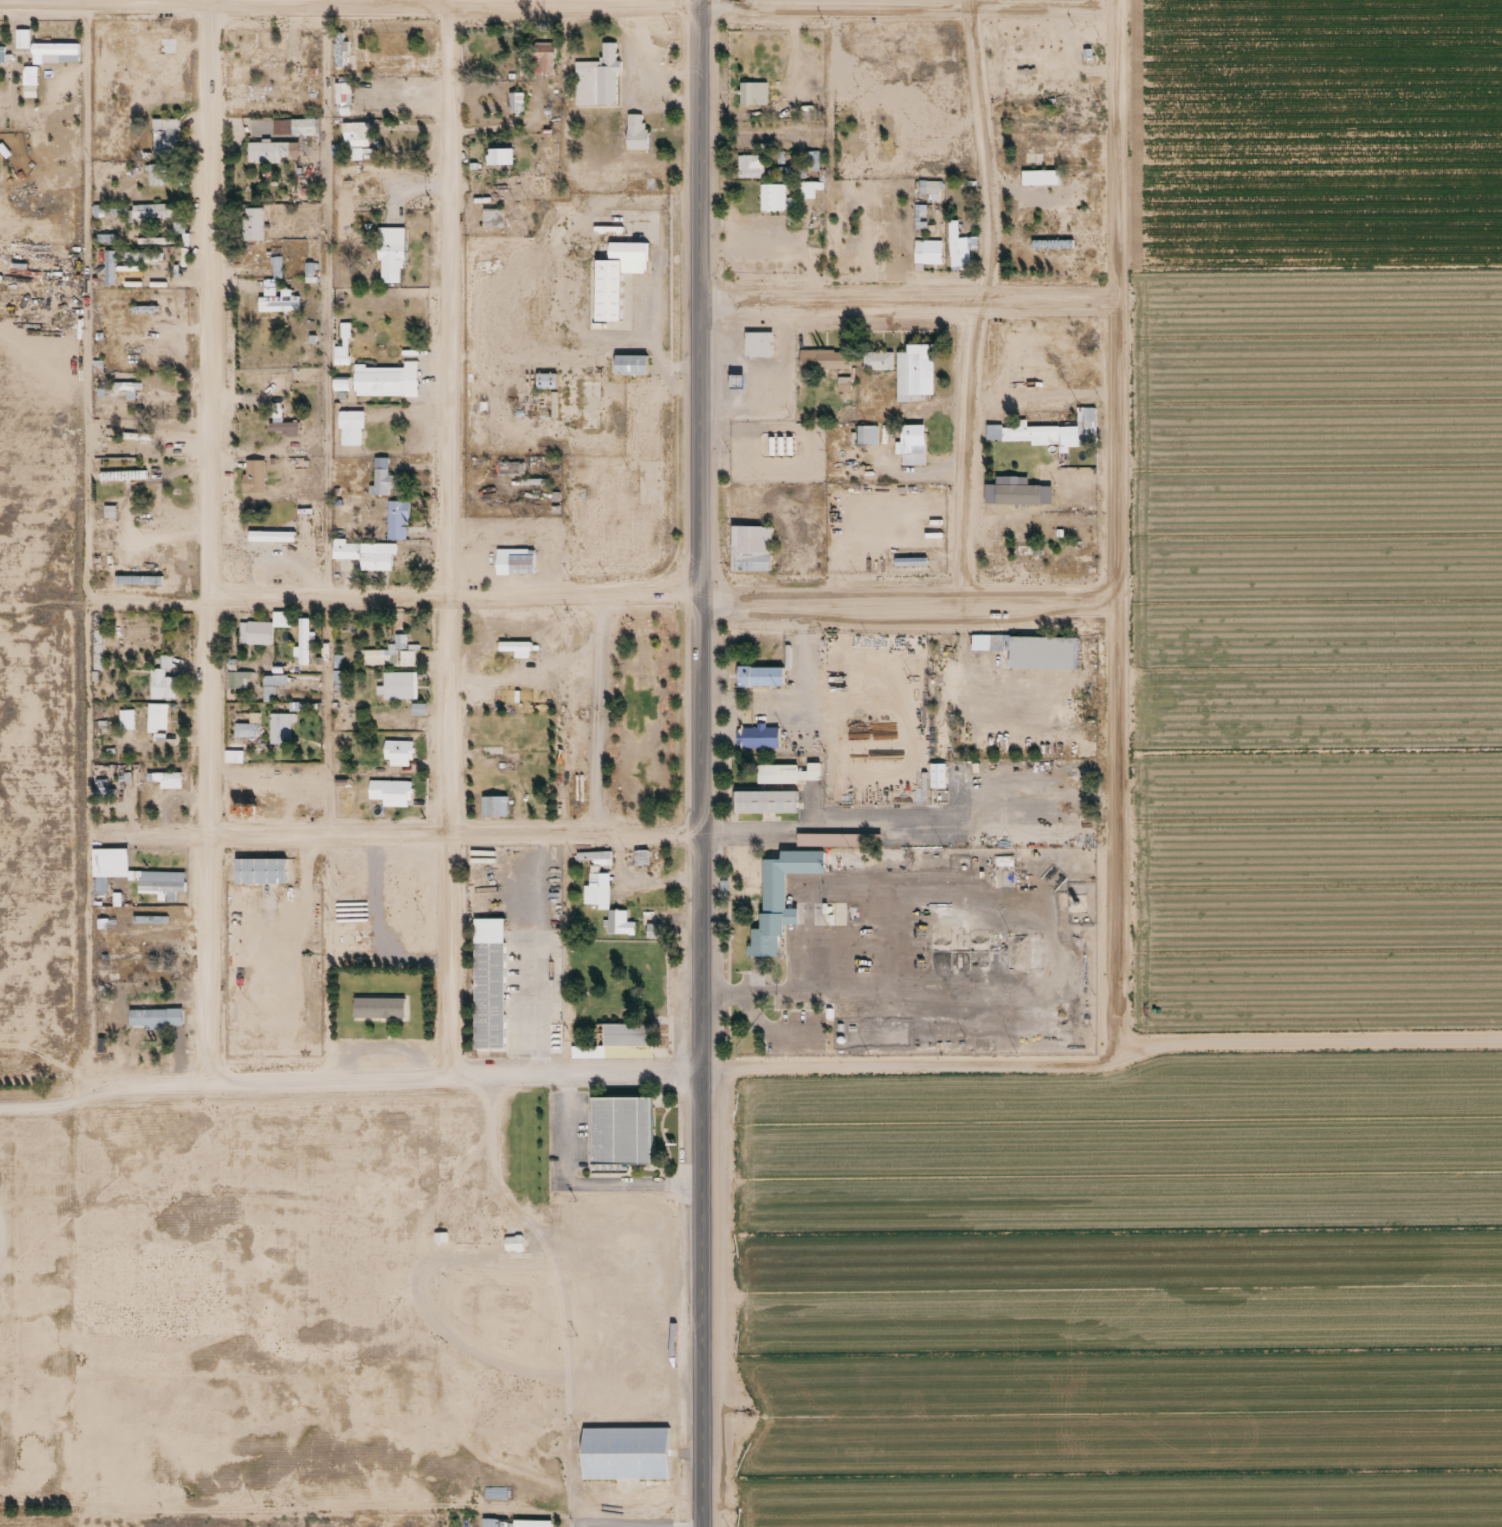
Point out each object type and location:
road: (512, 0)
road: (833, 1)
road: (1041, 1)
building: (1030, 45)
building: (54, 52)
building: (543, 53)
building: (1, 55)
building: (263, 56)
building: (384, 63)
building: (601, 86)
building: (752, 93)
building: (267, 97)
building: (515, 102)
building: (268, 106)
building: (806, 111)
building: (293, 127)
building: (865, 131)
building: (354, 134)
building: (164, 137)
building: (640, 137)
building: (268, 147)
building: (500, 149)
road: (834, 149)
road: (985, 151)
building: (811, 159)
building: (749, 166)
building: (156, 175)
building: (1039, 178)
building: (496, 187)
building: (927, 191)
building: (771, 197)
road: (1048, 198)
building: (149, 211)
building: (253, 217)
building: (919, 217)
building: (491, 219)
building: (836, 222)
building: (1051, 244)
building: (390, 245)
building: (926, 252)
building: (959, 253)
building: (618, 283)
building: (144, 301)
road: (905, 301)
building: (277, 302)
building: (758, 343)
building: (823, 359)
building: (876, 359)
building: (635, 370)
building: (914, 371)
building: (386, 374)
building: (125, 377)
building: (545, 380)
building: (339, 383)
building: (125, 388)
road: (331, 416)
building: (350, 420)
building: (284, 424)
building: (1046, 431)
building: (866, 434)
building: (911, 444)
road: (968, 445)
building: (508, 467)
building: (380, 472)
building: (253, 476)
building: (109, 513)
building: (398, 513)
helipad: (778, 525)
building: (270, 530)
building: (530, 530)
road: (1112, 531)
road: (452, 538)
road: (206, 539)
building: (750, 548)
building: (1022, 549)
building: (365, 554)
building: (515, 555)
building: (907, 562)
building: (1074, 562)
building: (139, 574)
road: (904, 588)
road: (452, 596)
building: (262, 623)
building: (305, 634)
building: (519, 641)
building: (1032, 649)
building: (389, 653)
building: (759, 675)
building: (399, 680)
building: (160, 684)
building: (155, 717)
building: (279, 727)
building: (398, 746)
building: (503, 758)
road: (699, 763)
building: (788, 773)
building: (936, 775)
building: (165, 779)
building: (391, 786)
building: (495, 798)
building: (765, 801)
road: (453, 830)
road: (148, 834)
building: (816, 839)
building: (640, 857)
building: (595, 858)
building: (109, 862)
building: (262, 862)
building: (161, 876)
building: (778, 889)
building: (595, 900)
building: (618, 923)
building: (125, 945)
building: (493, 989)
building: (378, 1008)
building: (156, 1010)
building: (627, 1034)
road: (1104, 1062)
road: (453, 1076)
road: (148, 1080)
building: (624, 1136)
building: (512, 1243)
building: (626, 1448)
building: (532, 1519)
building: (493, 1522)

